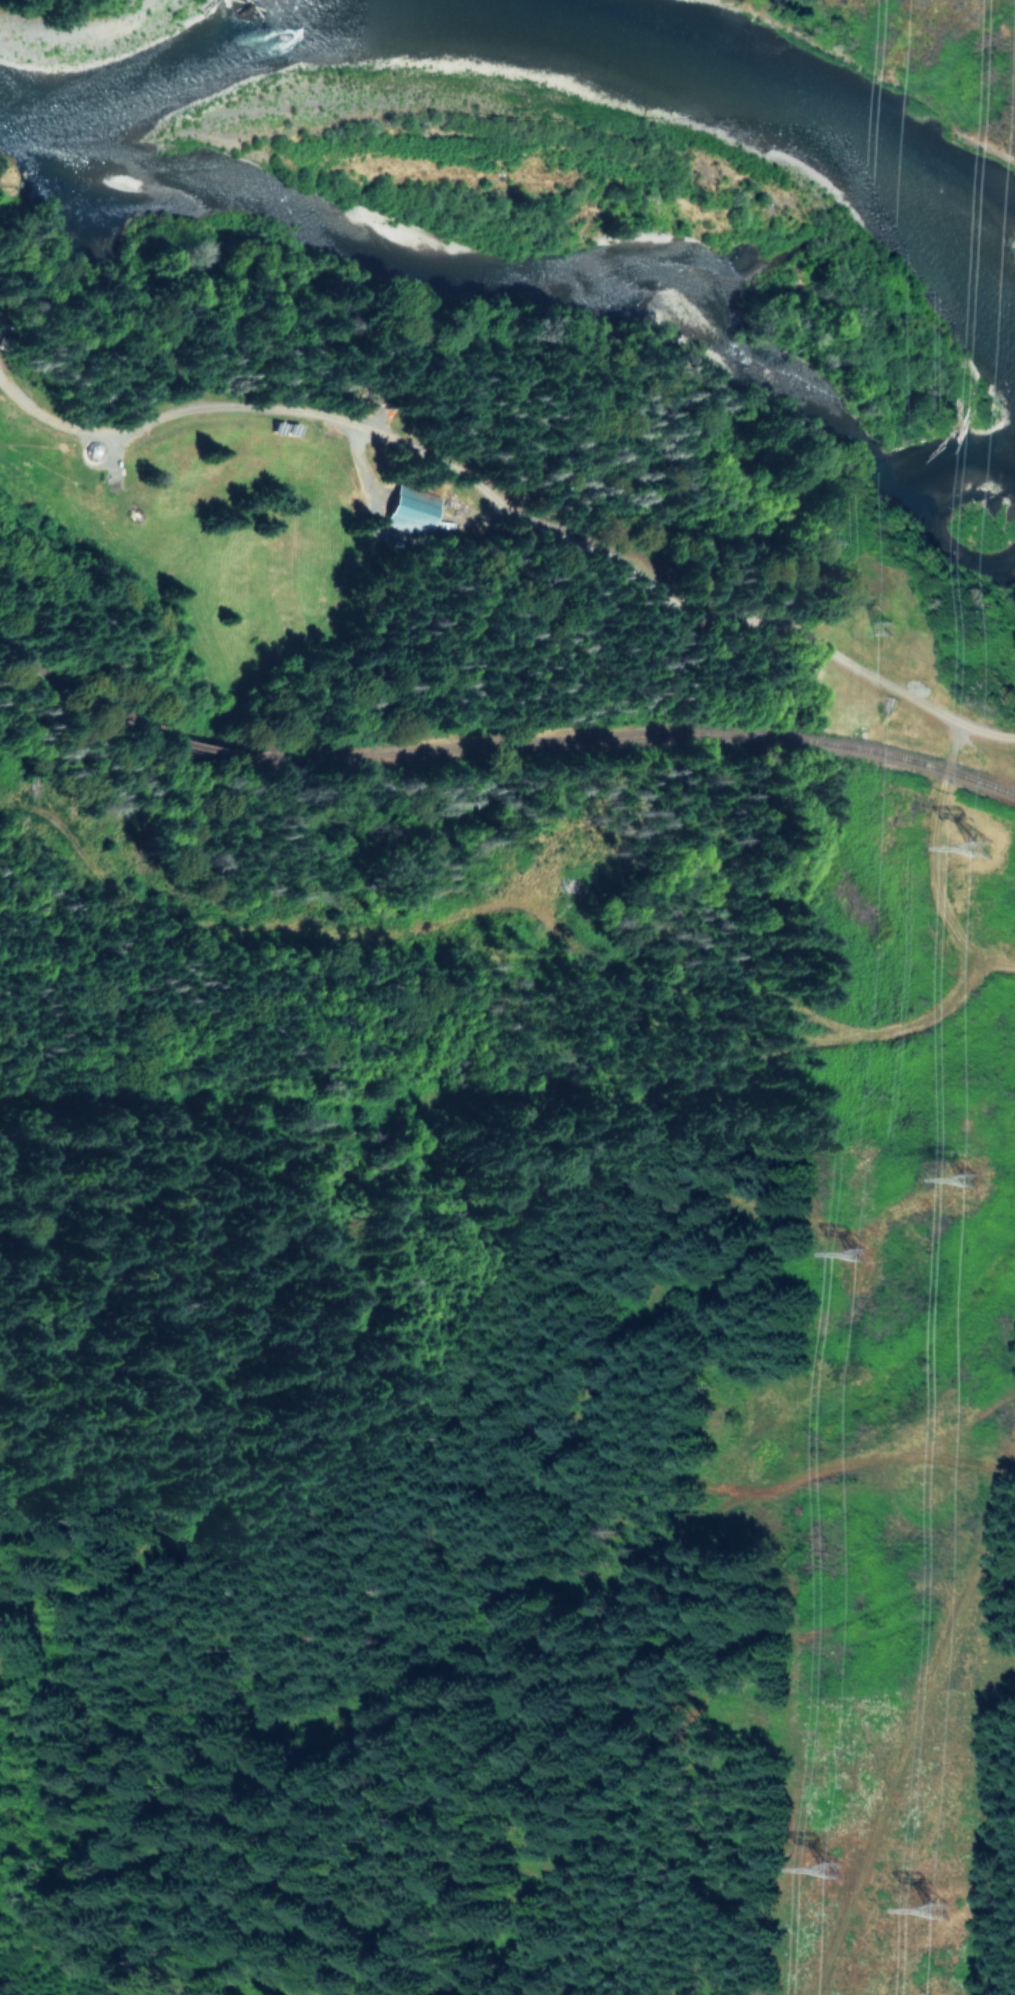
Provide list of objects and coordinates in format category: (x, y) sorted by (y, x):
river: (533, 60)
building: (413, 510)
road: (512, 518)
power tower: (892, 634)
railway: (72, 699)
railway: (646, 738)
railway: (211, 749)
power tower: (995, 854)
road: (934, 862)
road: (520, 1100)
power tower: (973, 1191)
power tower: (863, 1259)
road: (914, 1735)
power tower: (836, 1874)
power tower: (944, 1920)

